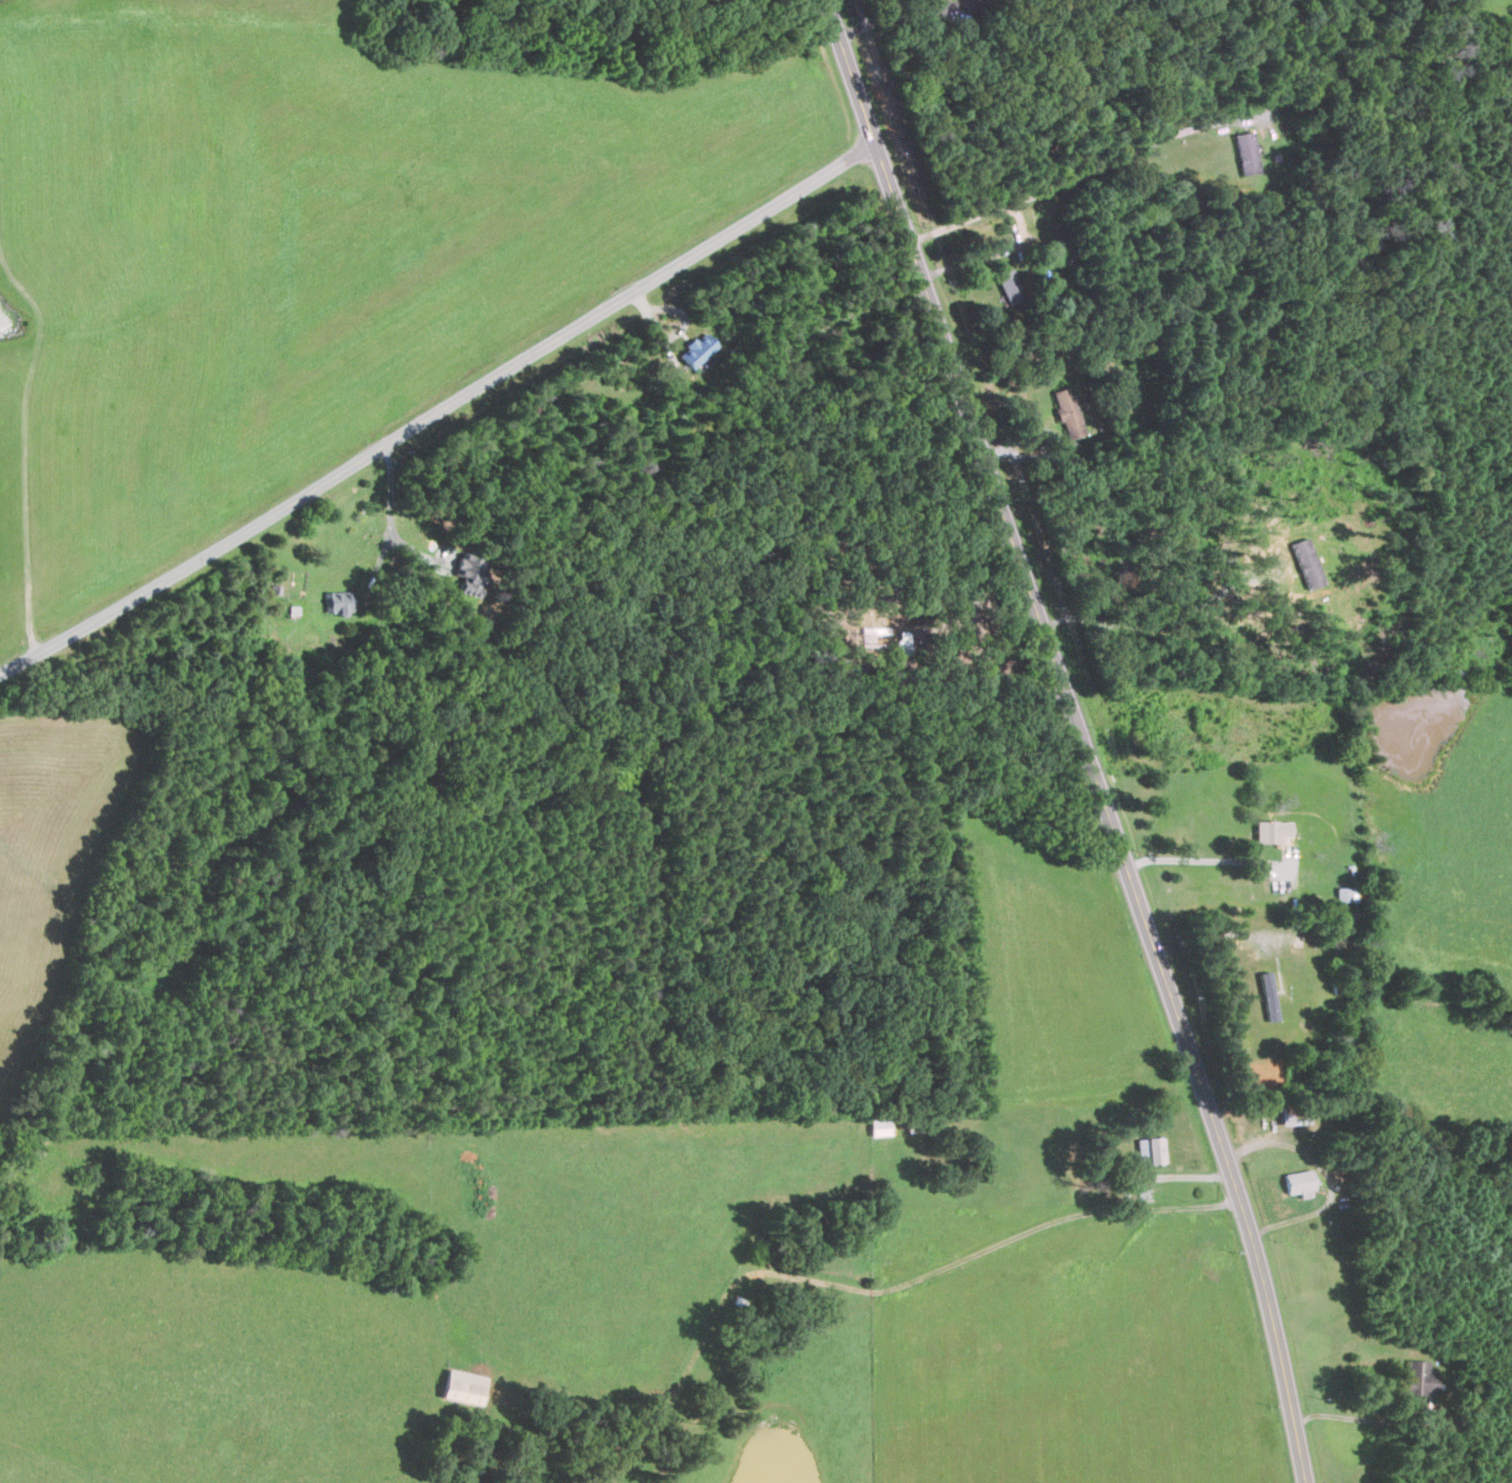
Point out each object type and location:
road: (899, 17)
building: (1246, 152)
road: (1015, 207)
building: (1010, 285)
building: (698, 350)
road: (441, 410)
building: (1068, 412)
road: (388, 516)
building: (1307, 563)
building: (471, 574)
building: (338, 602)
road: (1081, 736)
building: (1272, 829)
road: (1205, 860)
building: (1343, 892)
building: (1268, 995)
building: (1151, 1149)
road: (1326, 1173)
building: (1300, 1182)
building: (462, 1386)
road: (1356, 1418)

